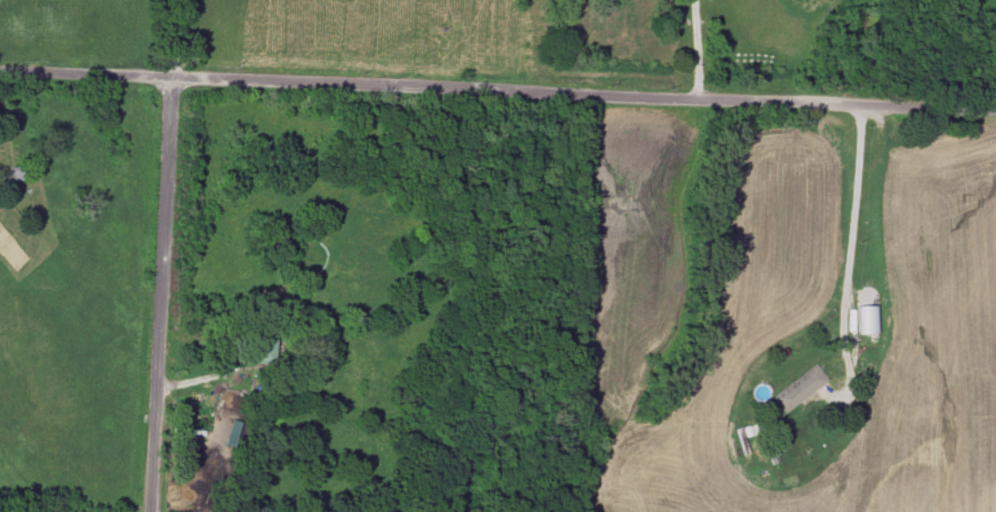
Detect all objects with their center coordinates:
road: (175, 35)
road: (697, 49)
road: (497, 90)
road: (847, 263)
road: (154, 291)
crop: (778, 308)
road: (199, 378)
building: (799, 388)

